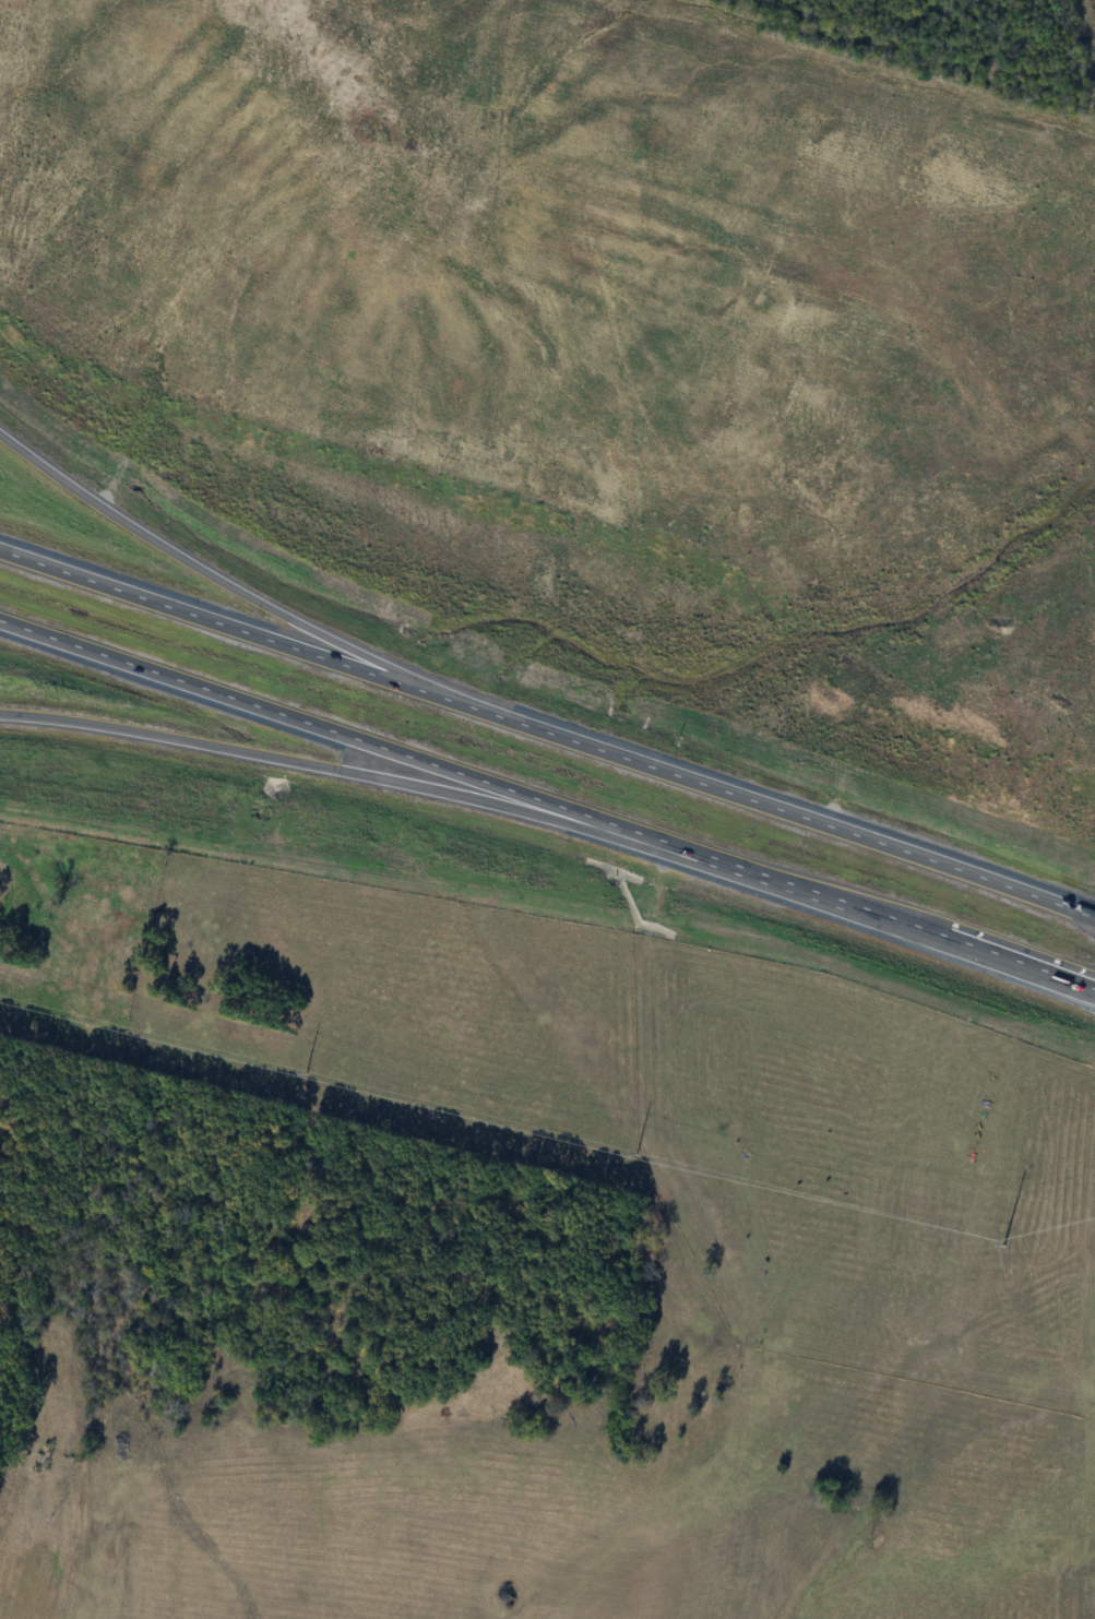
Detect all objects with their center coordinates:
road: (246, 590)
road: (547, 735)
road: (316, 762)
road: (547, 805)
power tower: (308, 1072)
power tower: (638, 1153)
power tower: (1004, 1245)

